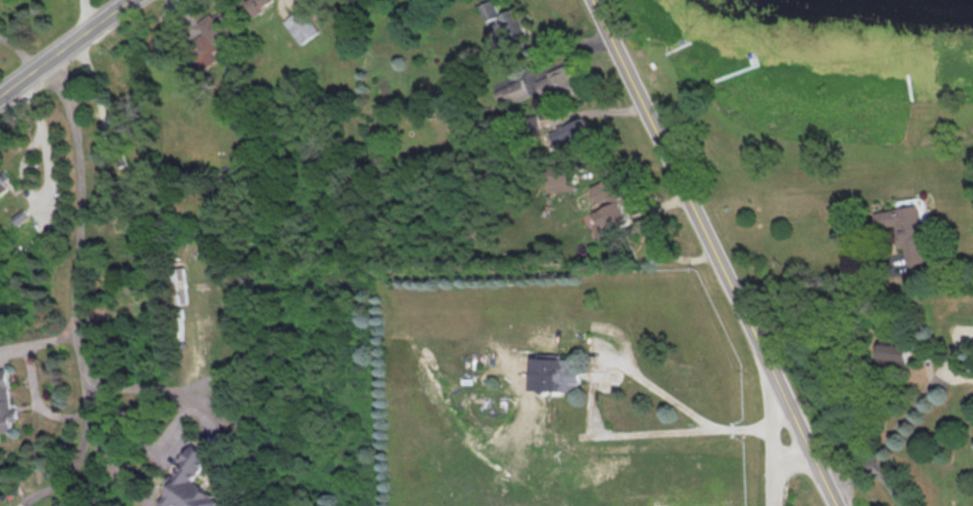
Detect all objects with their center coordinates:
building: (256, 6)
road: (87, 17)
building: (502, 19)
building: (300, 27)
building: (206, 42)
road: (68, 49)
road: (21, 50)
building: (557, 84)
building: (510, 95)
building: (570, 136)
road: (24, 168)
building: (2, 187)
building: (607, 204)
road: (719, 252)
road: (77, 275)
building: (177, 275)
road: (809, 281)
building: (182, 324)
building: (534, 360)
road: (609, 361)
road: (908, 414)
road: (774, 433)
road: (794, 455)
road: (876, 471)

